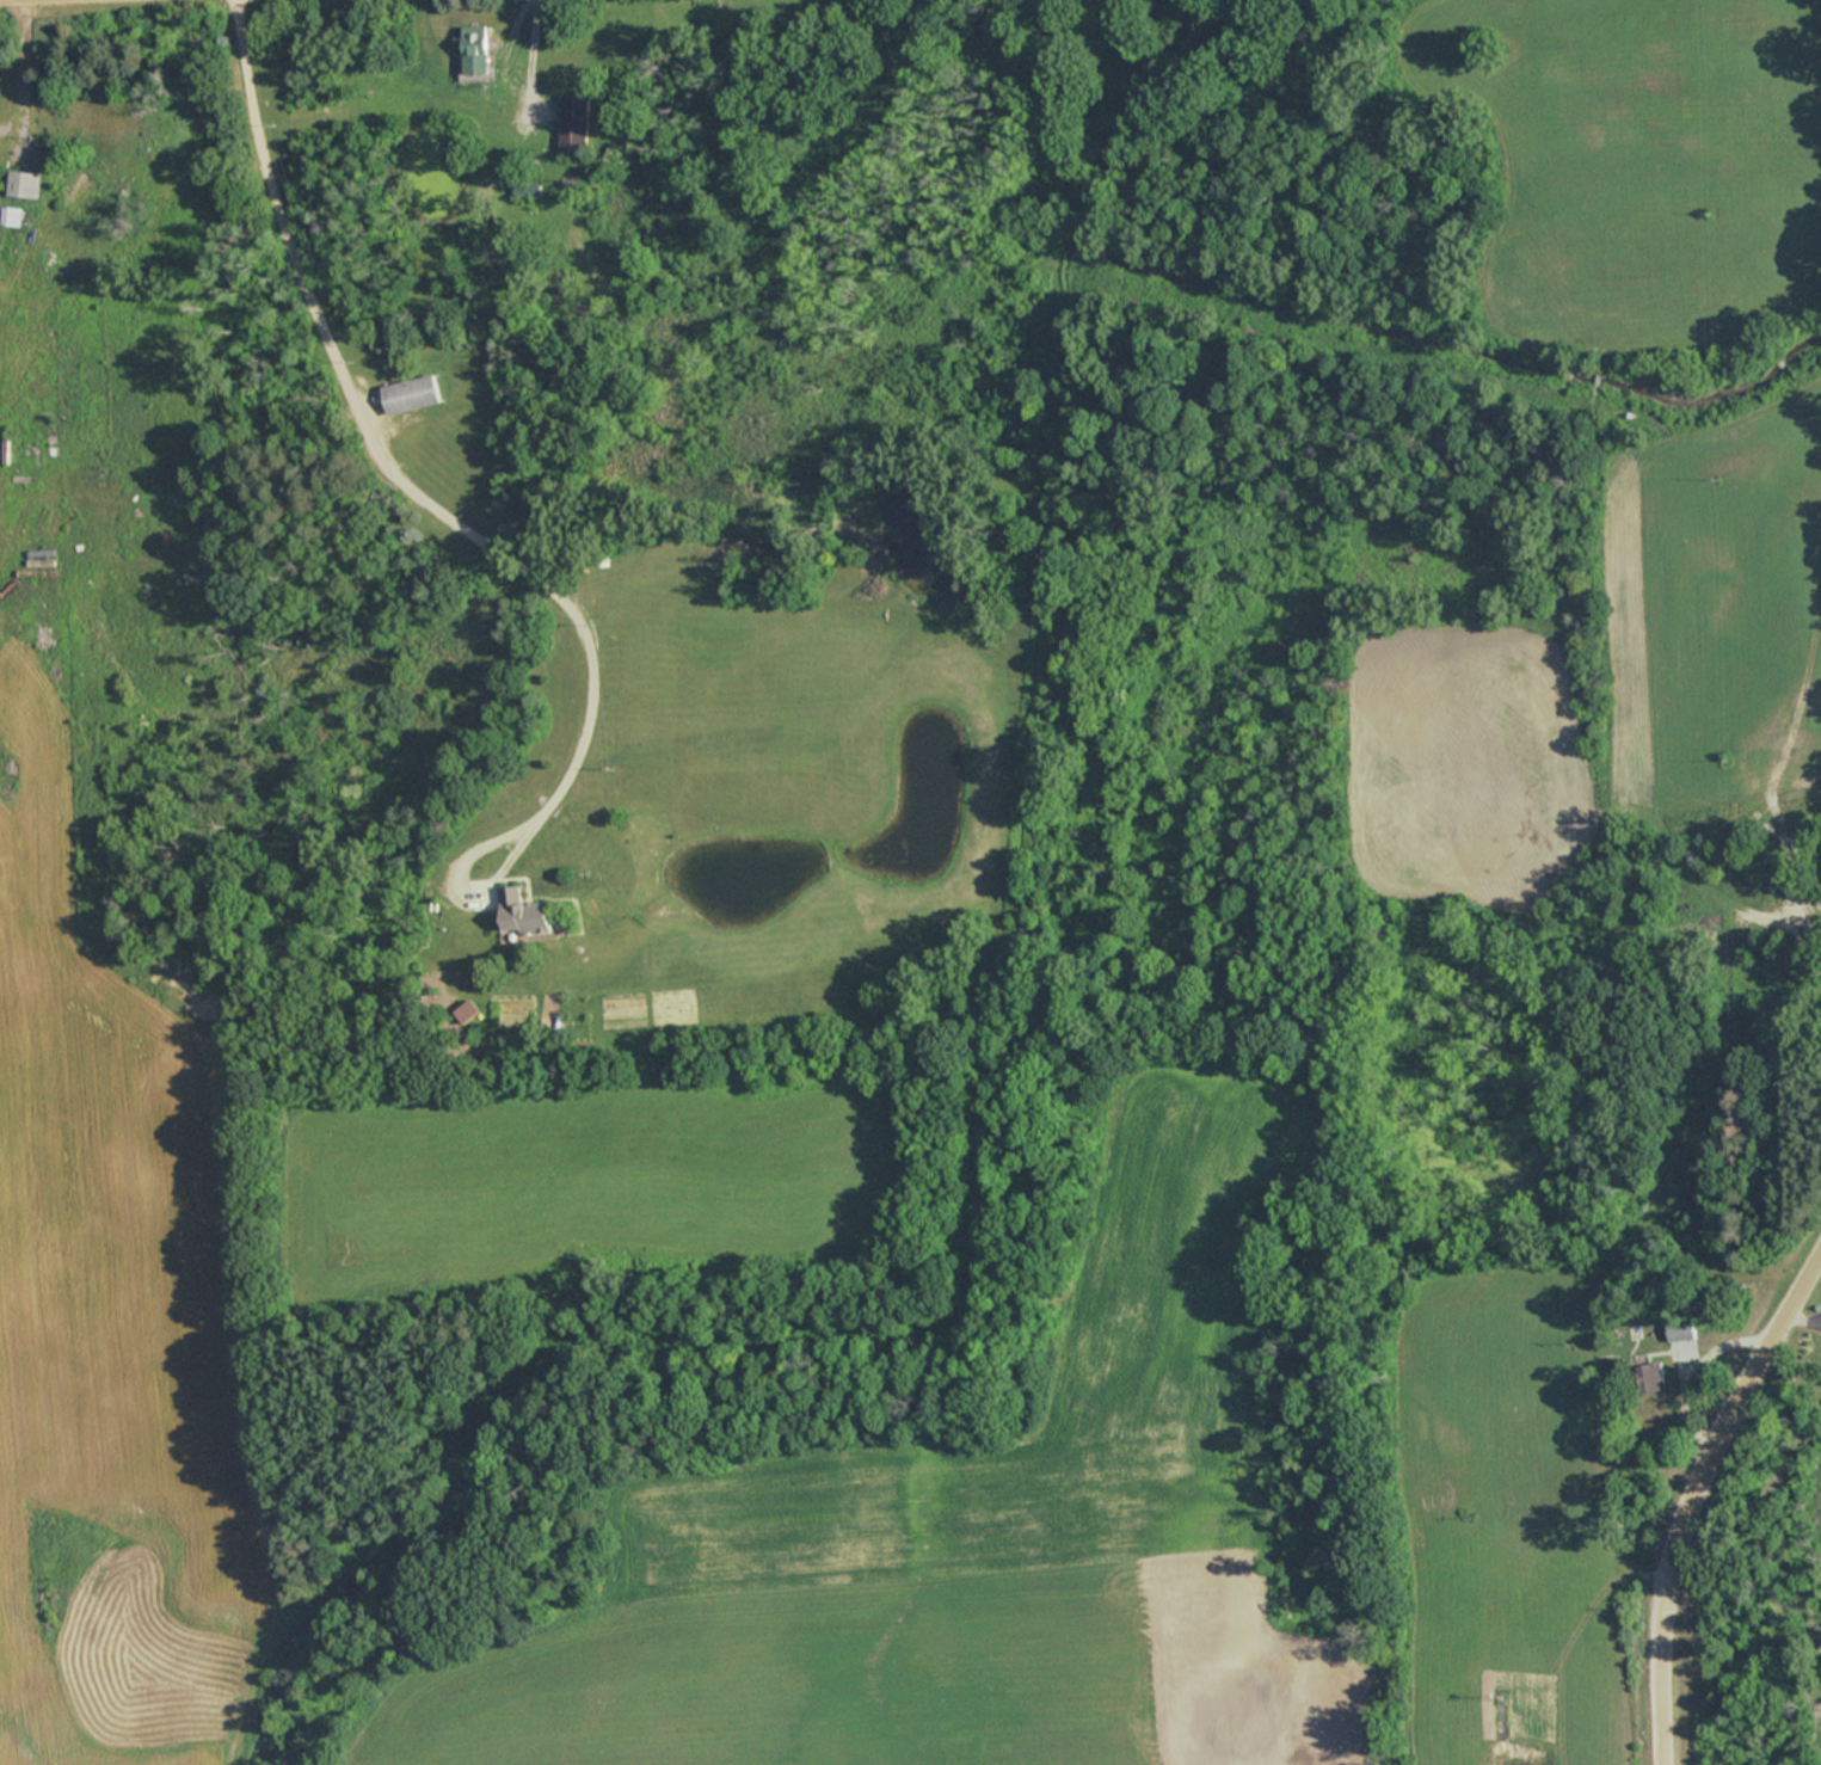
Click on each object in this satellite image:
building: (476, 50)
road: (19, 67)
building: (573, 124)
building: (24, 185)
building: (81, 192)
building: (410, 394)
road: (377, 456)
road: (466, 893)
building: (523, 914)
building: (1791, 978)
building: (466, 1011)
building: (1686, 1329)
building: (1651, 1377)
road: (1692, 1498)

